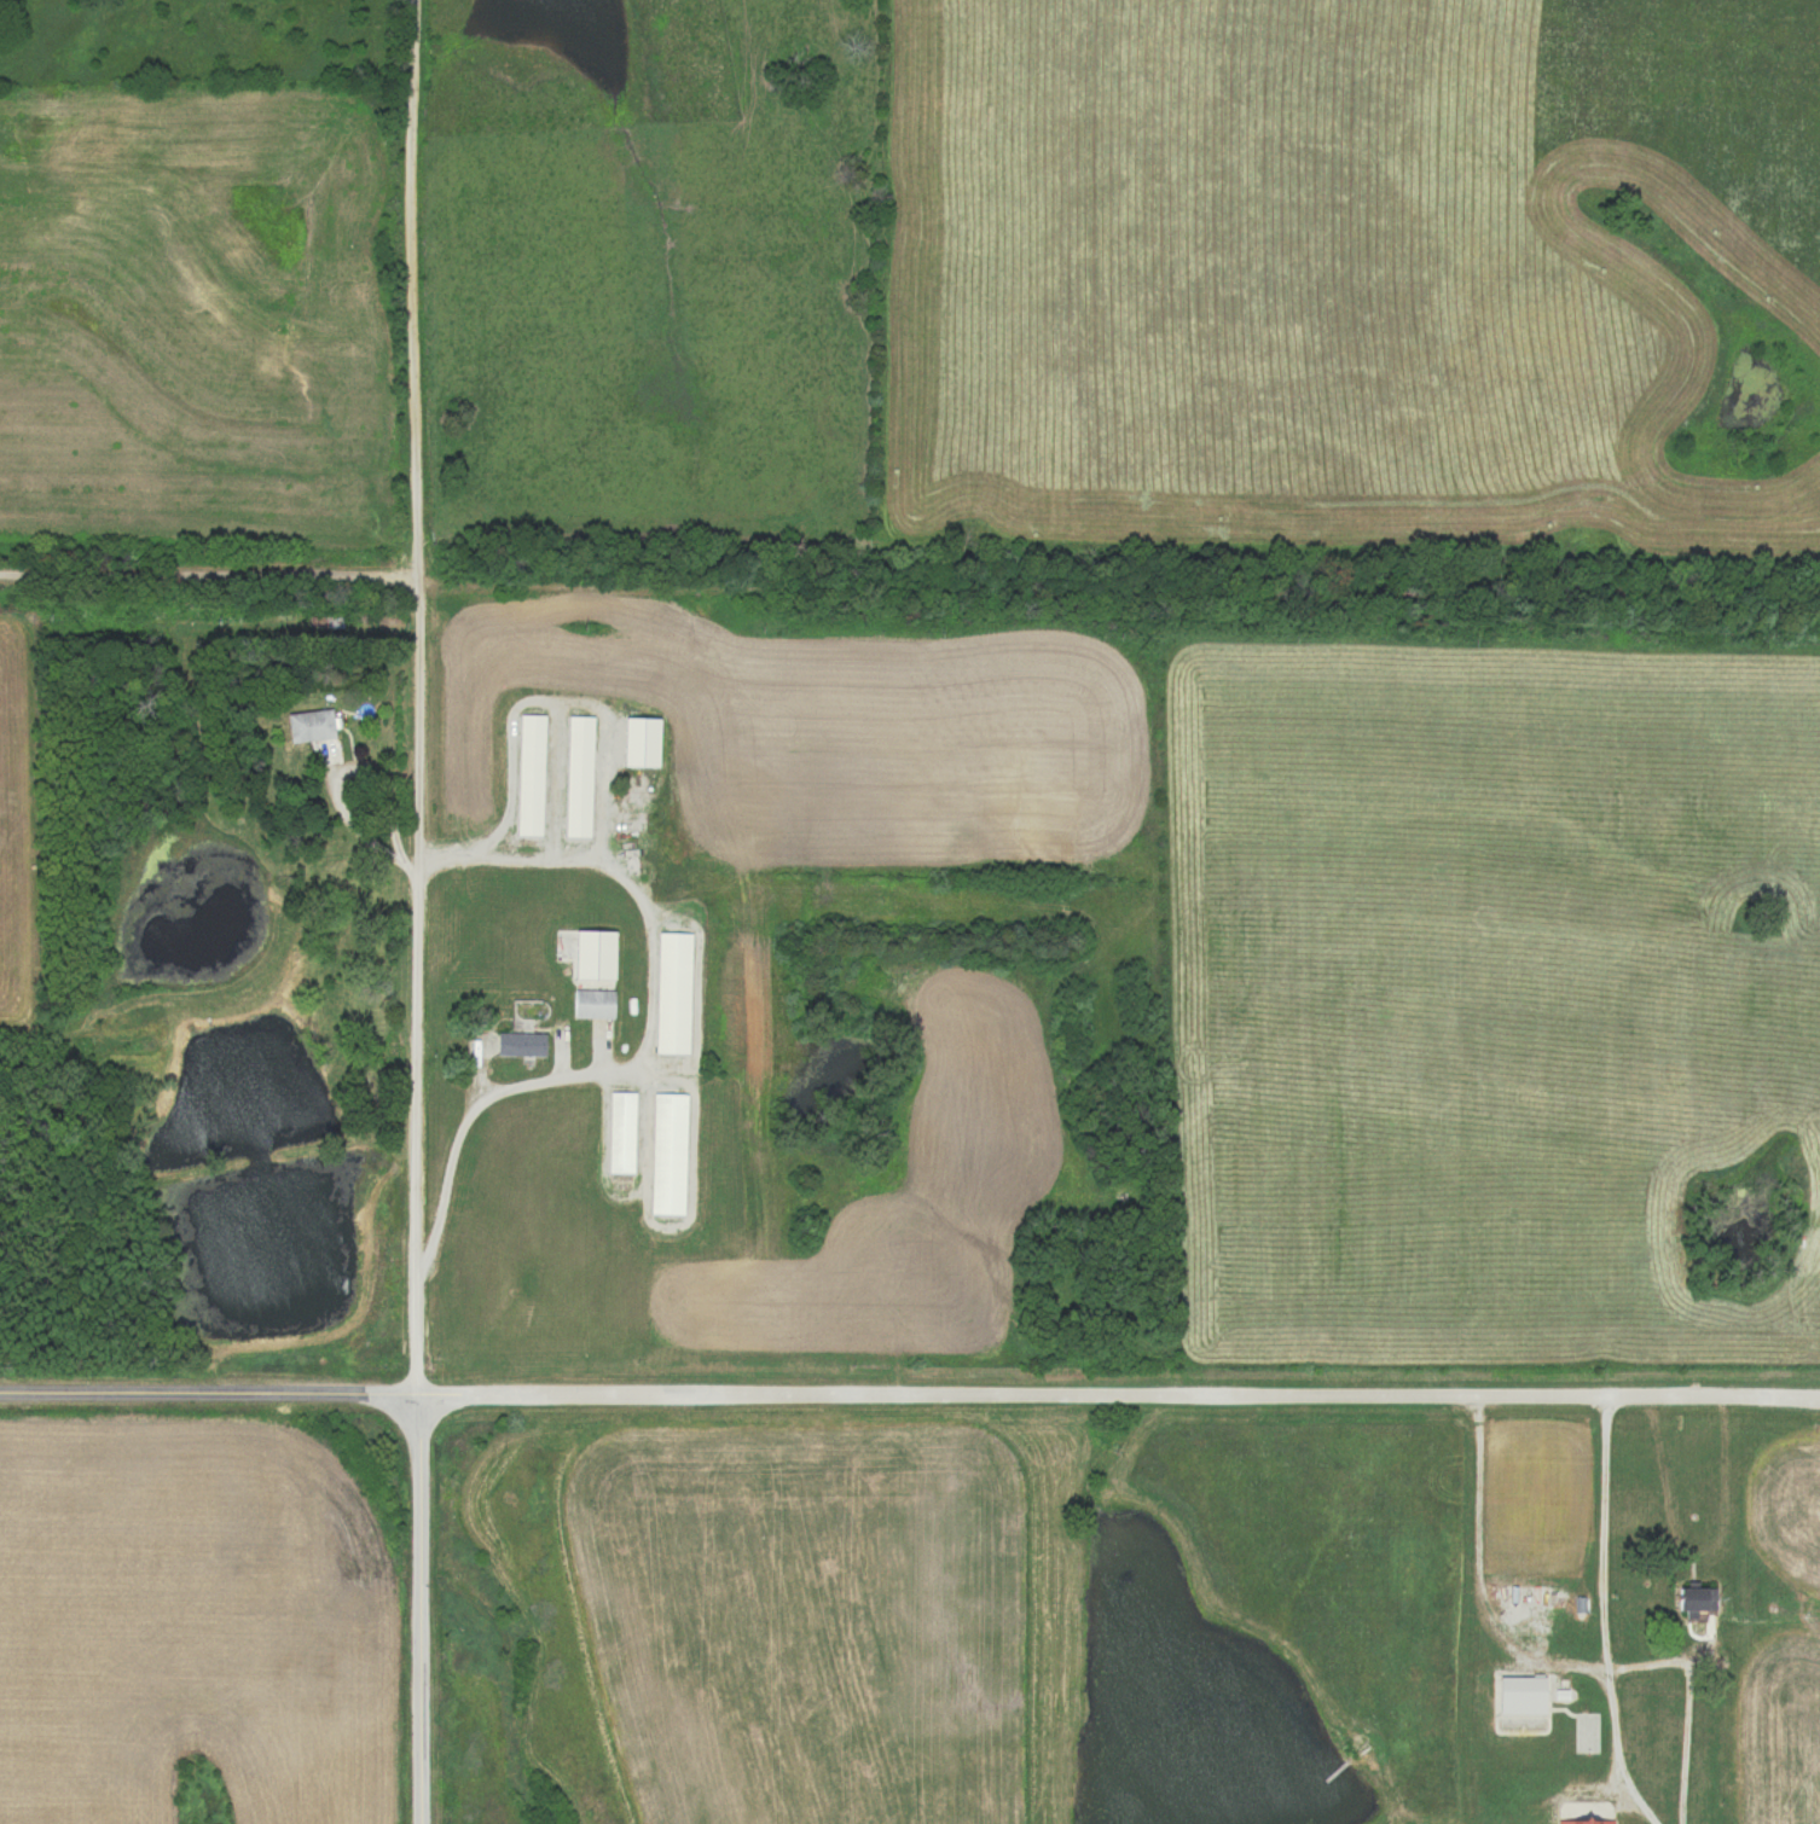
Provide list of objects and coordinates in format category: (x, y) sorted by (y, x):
crop: (202, 315)
road: (279, 571)
road: (423, 697)
road: (558, 708)
building: (308, 724)
building: (529, 774)
building: (578, 776)
road: (555, 784)
building: (593, 946)
building: (671, 992)
crop: (1494, 997)
building: (591, 1003)
road: (644, 1039)
building: (518, 1044)
building: (620, 1132)
building: (666, 1154)
road: (692, 1175)
road: (626, 1179)
road: (207, 1389)
road: (1117, 1393)
building: (1696, 1598)
road: (417, 1609)
road: (1601, 1615)
building: (1520, 1697)

